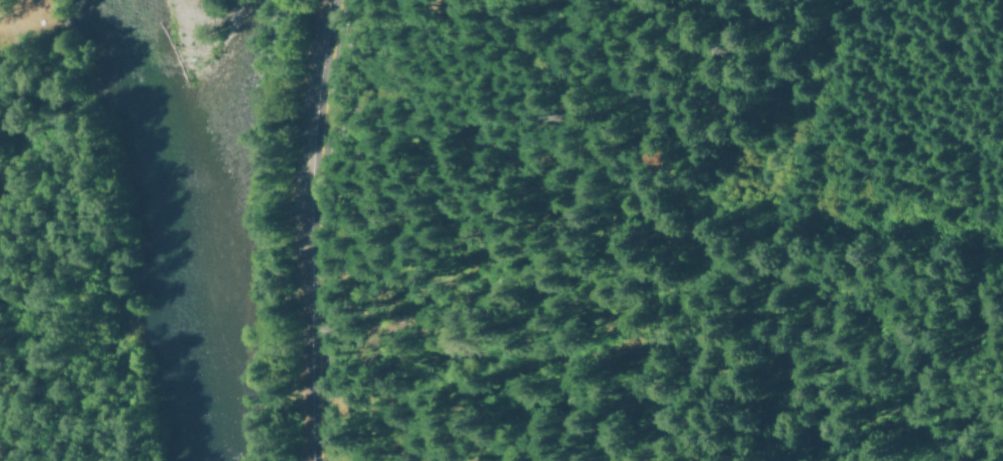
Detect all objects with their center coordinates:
river: (174, 227)
road: (311, 230)

